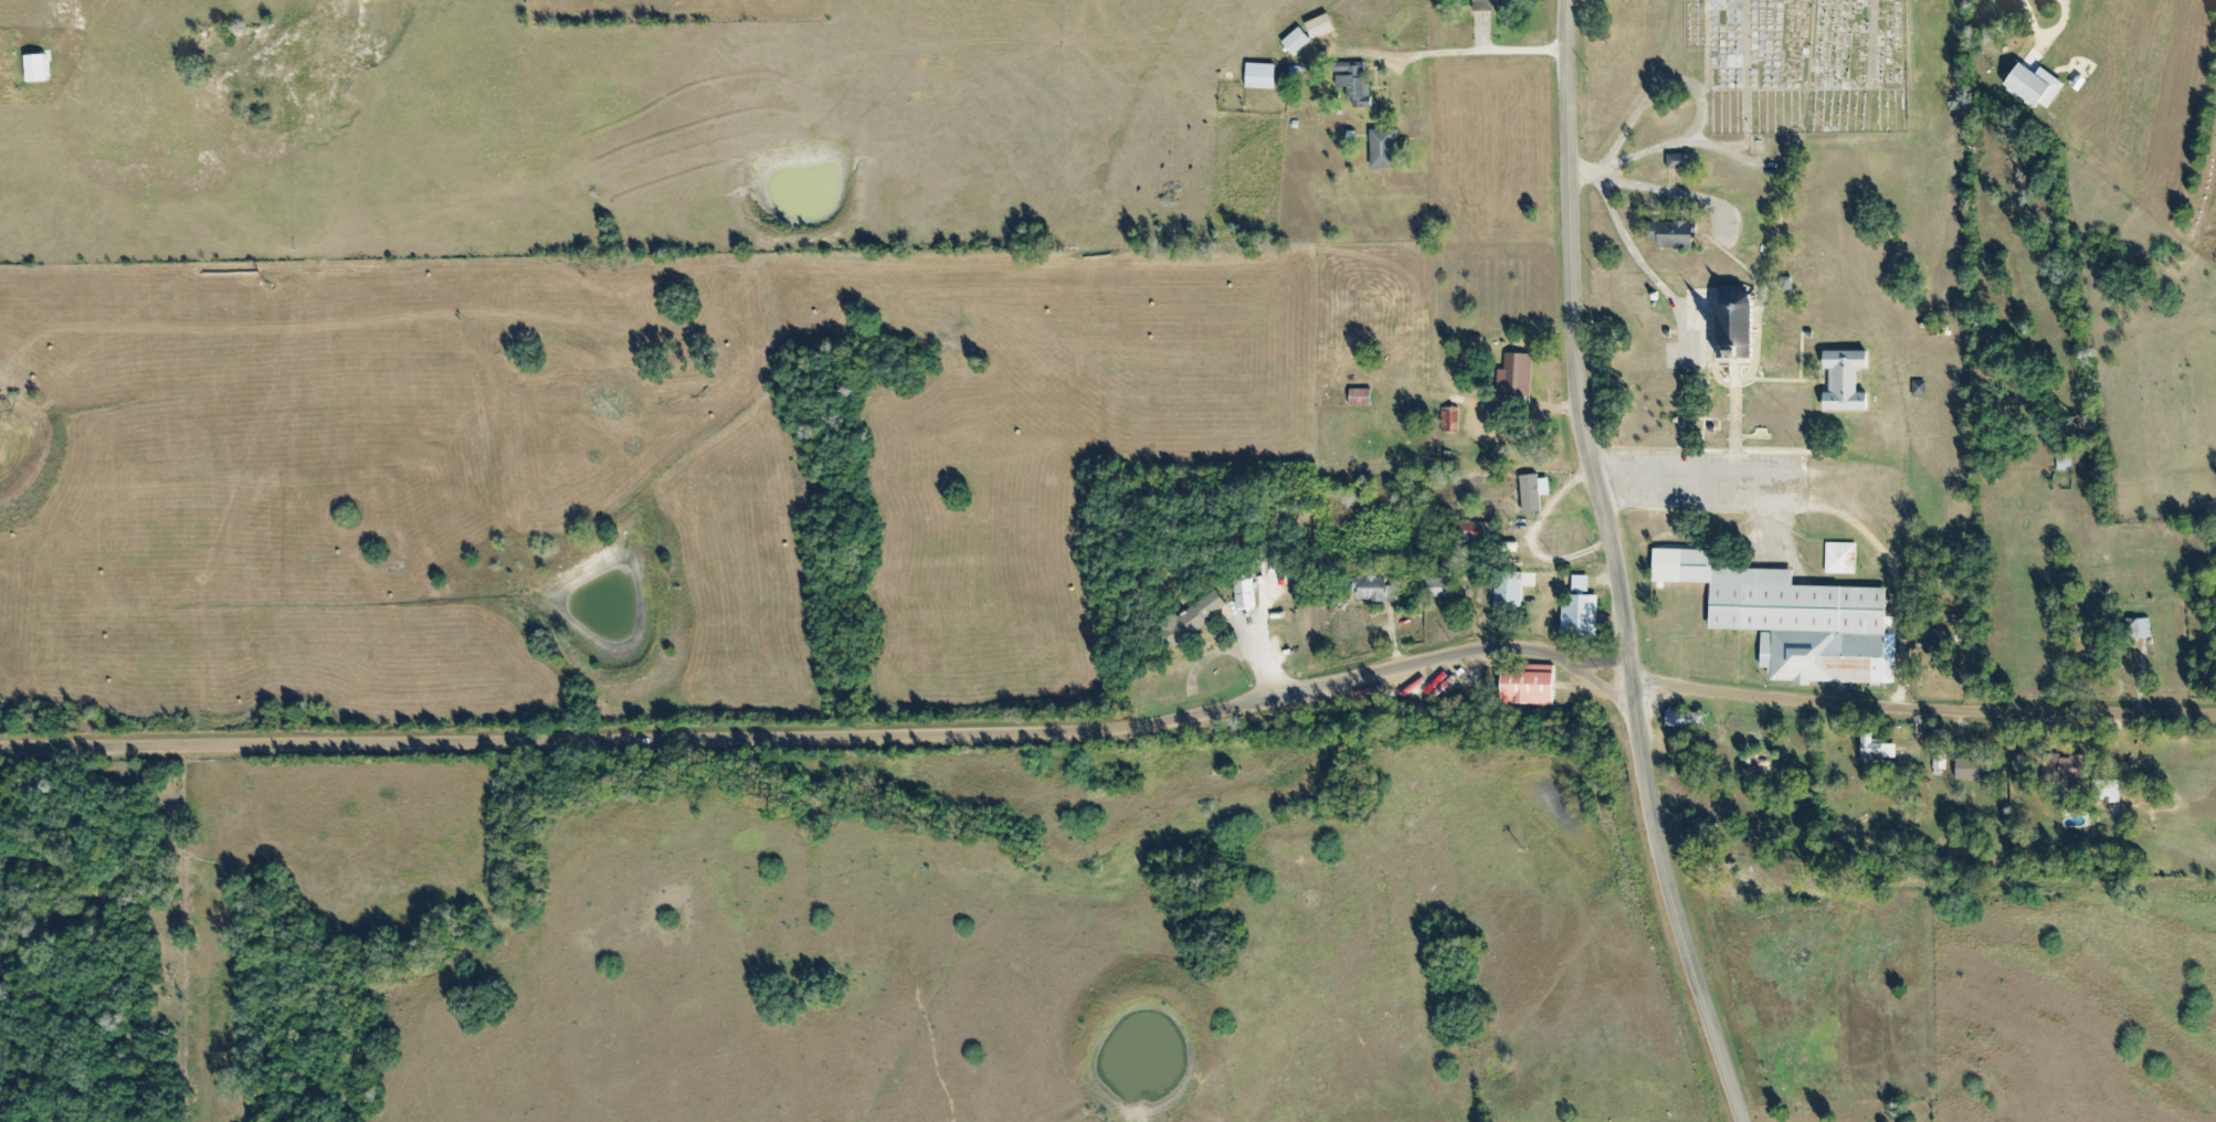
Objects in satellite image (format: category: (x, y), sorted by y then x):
building: (1482, 4)
road: (2028, 17)
building: (1318, 24)
building: (1295, 39)
road: (1703, 47)
road: (1358, 52)
road: (1404, 60)
park: (1801, 64)
building: (42, 68)
road: (1745, 72)
building: (1259, 75)
building: (2027, 76)
building: (1353, 83)
road: (1830, 88)
road: (1636, 109)
road: (1716, 144)
road: (1661, 146)
building: (1382, 148)
building: (1676, 161)
road: (1591, 173)
road: (1675, 193)
road: (1652, 202)
road: (1780, 209)
building: (1670, 233)
road: (1644, 267)
building: (1783, 283)
building: (1653, 295)
storage tank: (1653, 295)
building: (1652, 304)
building: (1734, 325)
road: (1571, 331)
building: (1665, 331)
road: (1677, 331)
building: (1807, 334)
parking lot: (1692, 338)
road: (1753, 347)
road: (1801, 354)
road: (1733, 360)
road: (1698, 361)
road: (1713, 362)
road: (1750, 363)
building: (1509, 369)
road: (1733, 378)
road: (1761, 379)
building: (1843, 380)
building: (1917, 388)
building: (1358, 396)
road: (1702, 406)
road: (1476, 407)
road: (1733, 416)
building: (1447, 419)
building: (1674, 419)
road: (1690, 419)
building: (1710, 427)
road: (1750, 436)
building: (2059, 454)
building: (1527, 491)
parking lot: (1714, 494)
building: (1468, 528)
road: (1528, 537)
road: (1959, 546)
building: (1839, 558)
road: (1893, 582)
building: (1370, 584)
building: (1434, 585)
building: (1509, 588)
building: (1244, 589)
building: (1771, 596)
road: (1264, 600)
building: (1579, 614)
building: (1192, 616)
road: (1971, 622)
building: (2134, 627)
road: (1391, 637)
building: (1825, 654)
road: (1260, 656)
road: (1203, 657)
road: (1583, 673)
road: (1628, 673)
road: (2139, 678)
building: (1527, 682)
road: (1633, 702)
road: (1922, 708)
building: (1681, 719)
road: (1917, 731)
road: (792, 737)
building: (1876, 742)
building: (1938, 755)
building: (2056, 762)
building: (1970, 764)
building: (2104, 785)
road: (1676, 922)

